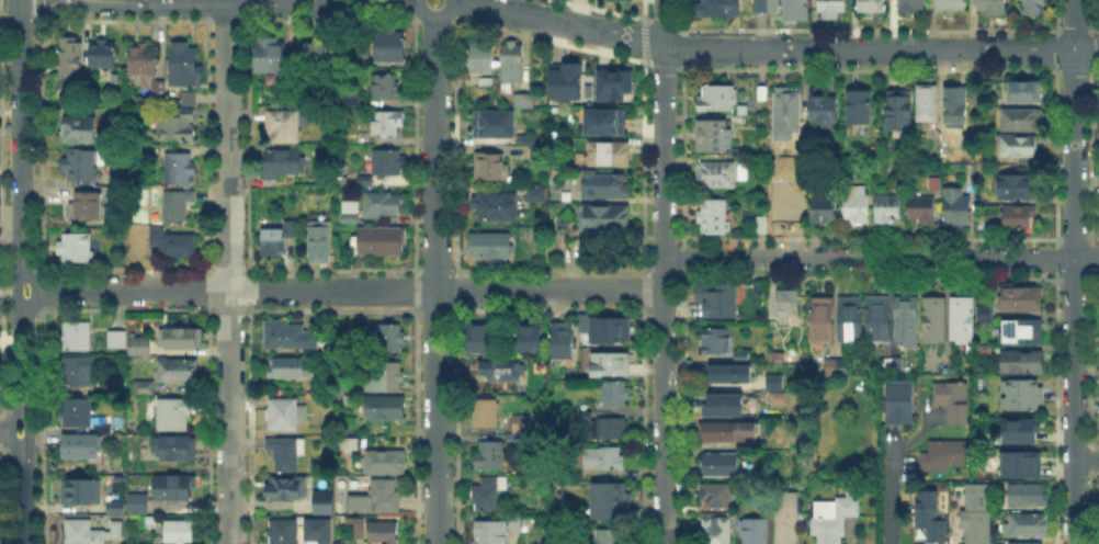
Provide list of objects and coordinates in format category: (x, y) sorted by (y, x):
road: (262, 0)
building: (618, 1)
building: (767, 5)
building: (952, 5)
building: (872, 7)
building: (913, 7)
building: (994, 8)
building: (1034, 8)
building: (721, 9)
road: (434, 10)
building: (797, 10)
building: (832, 10)
building: (392, 47)
road: (779, 48)
building: (317, 54)
building: (104, 55)
building: (272, 57)
building: (70, 58)
building: (480, 59)
building: (144, 60)
building: (185, 61)
building: (512, 64)
building: (566, 80)
building: (487, 82)
building: (614, 83)
building: (385, 88)
building: (160, 91)
building: (1024, 92)
building: (718, 98)
building: (189, 99)
building: (523, 99)
building: (351, 100)
building: (928, 104)
building: (861, 107)
building: (956, 109)
building: (1098, 109)
building: (824, 111)
building: (789, 113)
building: (900, 113)
building: (602, 121)
building: (1022, 122)
building: (387, 123)
building: (491, 123)
building: (179, 128)
building: (286, 128)
building: (81, 132)
building: (713, 136)
building: (522, 139)
road: (21, 145)
building: (1019, 147)
building: (540, 155)
building: (610, 155)
building: (284, 163)
building: (389, 163)
building: (82, 167)
building: (490, 167)
building: (180, 170)
building: (722, 175)
building: (118, 179)
building: (365, 181)
building: (936, 184)
building: (607, 186)
building: (1020, 189)
building: (537, 196)
building: (785, 204)
building: (178, 205)
building: (385, 205)
building: (87, 206)
building: (497, 208)
building: (857, 208)
building: (887, 209)
building: (956, 209)
building: (825, 211)
building: (922, 211)
building: (351, 213)
building: (607, 219)
building: (714, 219)
building: (1019, 219)
building: (761, 227)
building: (275, 238)
building: (321, 242)
building: (381, 243)
building: (174, 245)
building: (491, 246)
building: (76, 250)
road: (881, 258)
road: (1073, 271)
road: (225, 272)
road: (664, 272)
road: (437, 276)
road: (343, 288)
building: (718, 299)
building: (1023, 299)
building: (788, 305)
building: (987, 316)
building: (852, 319)
building: (823, 320)
building: (880, 320)
building: (934, 320)
building: (907, 321)
building: (964, 321)
building: (608, 329)
building: (1023, 332)
building: (77, 336)
building: (292, 336)
building: (484, 338)
building: (530, 338)
building: (116, 339)
building: (183, 339)
building: (392, 340)
building: (717, 341)
building: (565, 342)
building: (140, 347)
building: (985, 351)
building: (743, 358)
building: (1022, 362)
building: (612, 365)
building: (899, 366)
building: (290, 367)
building: (836, 367)
building: (501, 370)
building: (179, 372)
building: (78, 373)
building: (385, 376)
building: (726, 377)
building: (771, 381)
building: (120, 387)
building: (145, 389)
building: (618, 394)
building: (1022, 396)
building: (780, 397)
building: (350, 399)
building: (900, 400)
building: (953, 401)
building: (726, 404)
building: (386, 409)
building: (487, 411)
building: (78, 413)
building: (174, 416)
building: (287, 416)
road: (24, 417)
building: (522, 424)
building: (602, 426)
building: (1021, 430)
road: (12, 431)
building: (728, 433)
building: (517, 441)
building: (86, 445)
building: (174, 447)
building: (286, 455)
building: (490, 456)
building: (942, 456)
road: (1086, 458)
building: (604, 460)
building: (1019, 463)
building: (386, 464)
building: (721, 465)
building: (102, 466)
building: (290, 489)
building: (82, 490)
building: (175, 490)
building: (490, 492)
building: (385, 496)
building: (716, 496)
road: (890, 497)
building: (1029, 497)
building: (610, 501)
building: (325, 503)
building: (139, 505)
building: (117, 506)
building: (973, 513)
building: (929, 515)
building: (788, 518)
building: (835, 519)
building: (151, 524)
building: (1029, 526)
building: (316, 529)
building: (118, 531)
building: (501, 531)
building: (384, 532)
building: (717, 532)
building: (181, 533)
building: (294, 533)
building: (757, 533)
building: (83, 534)
building: (610, 537)
building: (560, 539)
building: (1018, 542)

